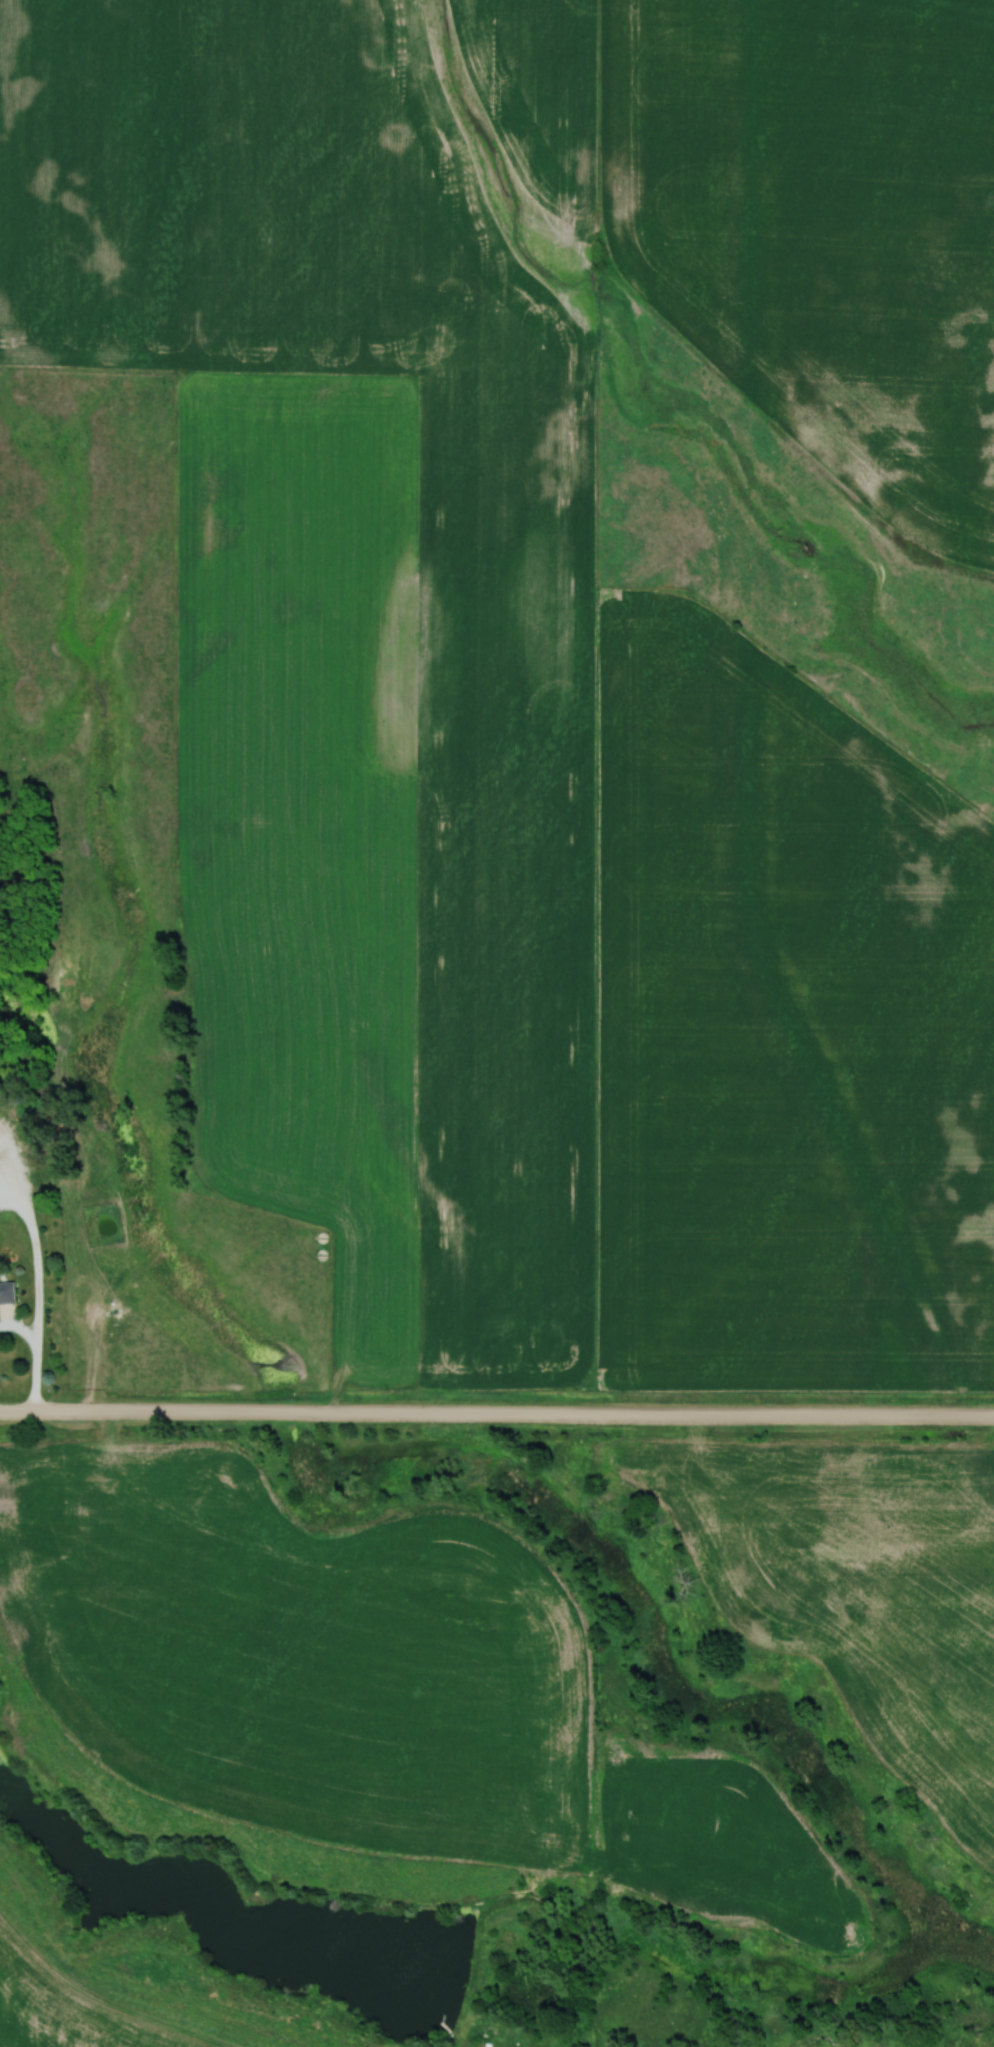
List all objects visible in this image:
road: (33, 1359)
road: (496, 1418)

